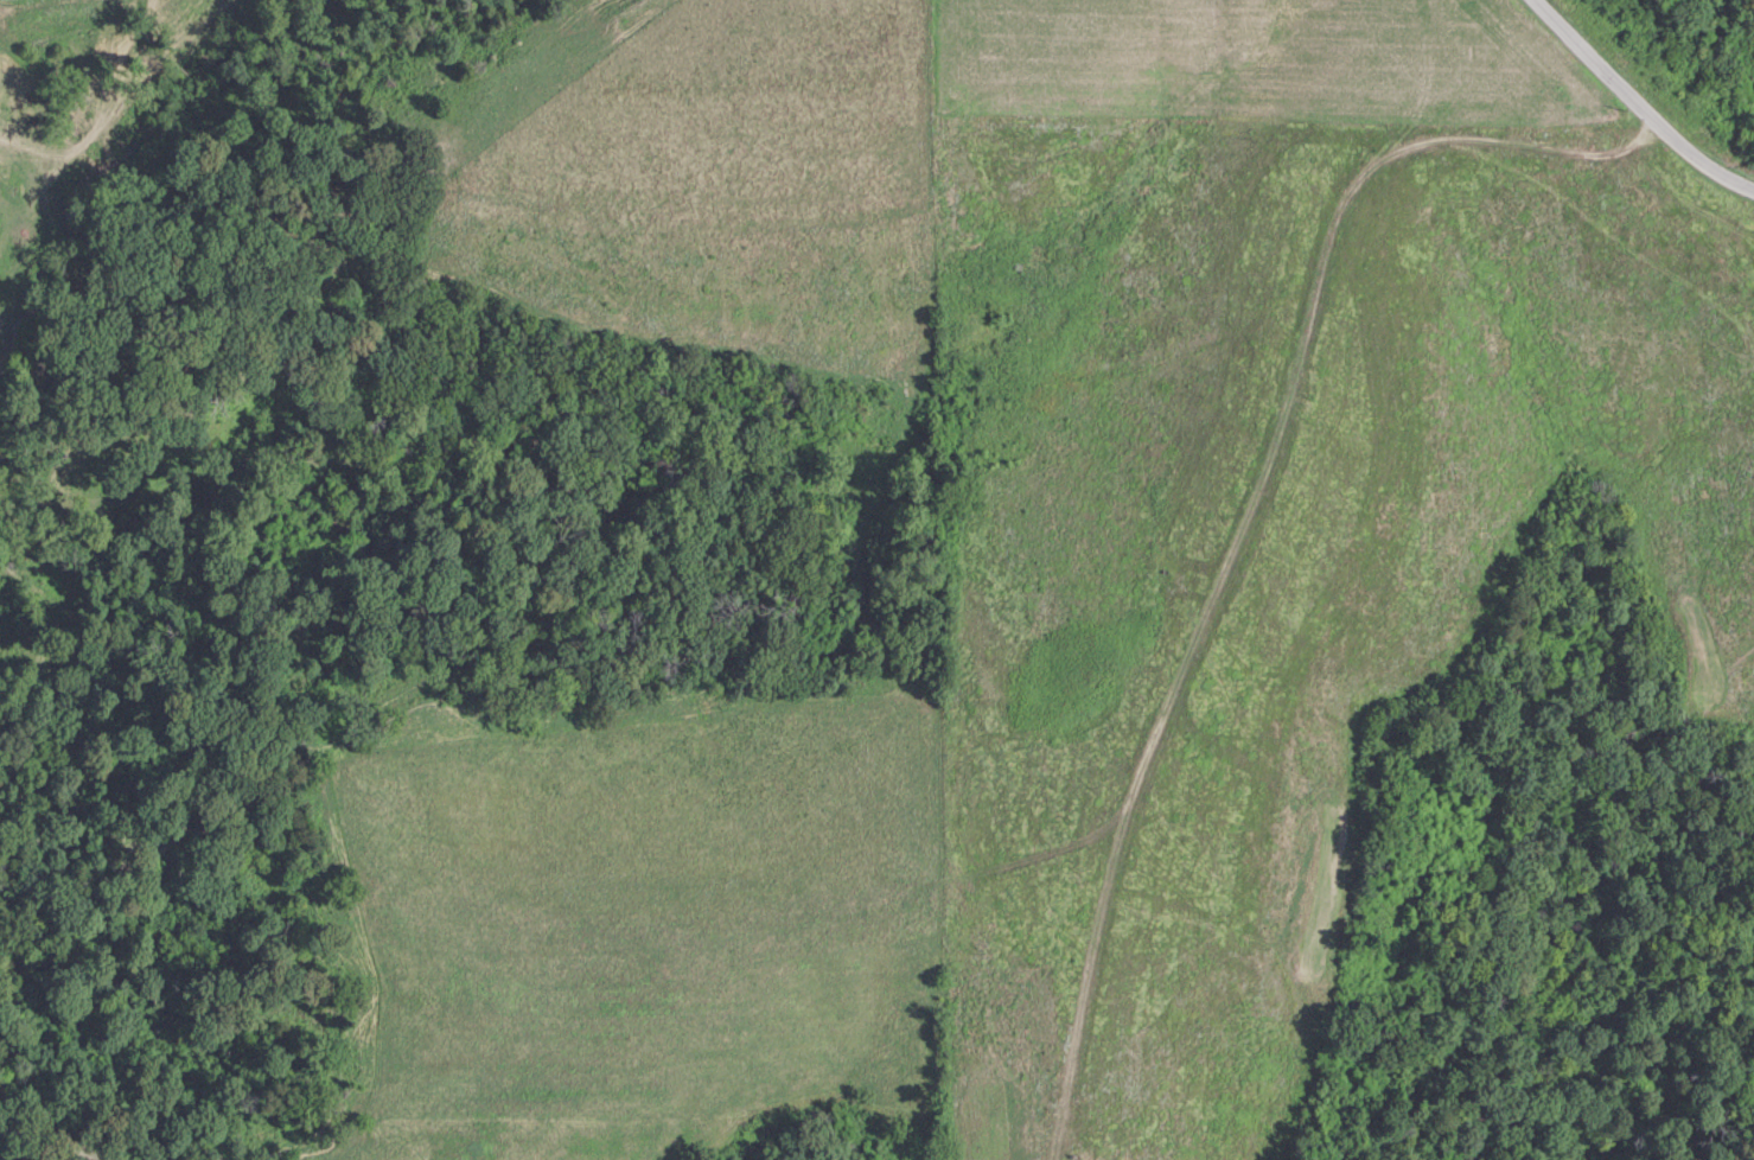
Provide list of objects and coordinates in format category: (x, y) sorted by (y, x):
road: (1637, 104)
building: (212, 358)

